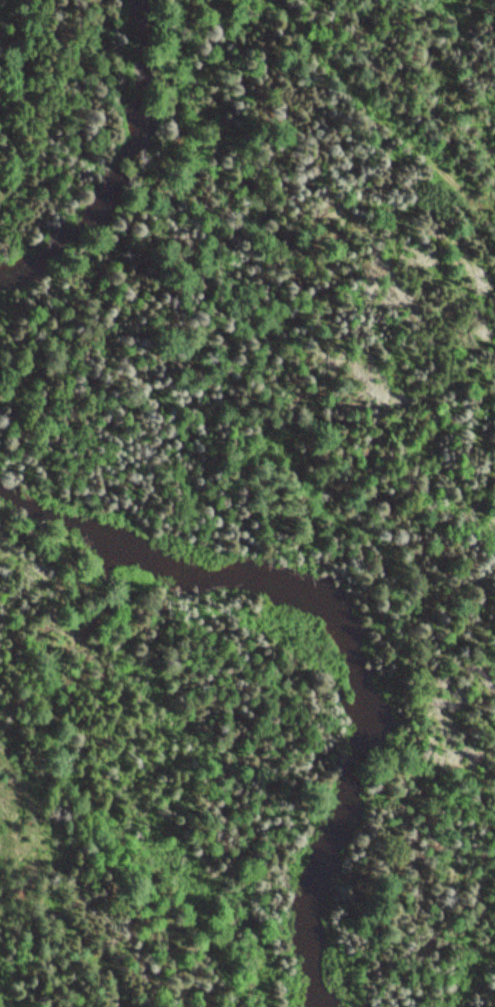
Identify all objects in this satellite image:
river: (114, 190)
river: (329, 637)

